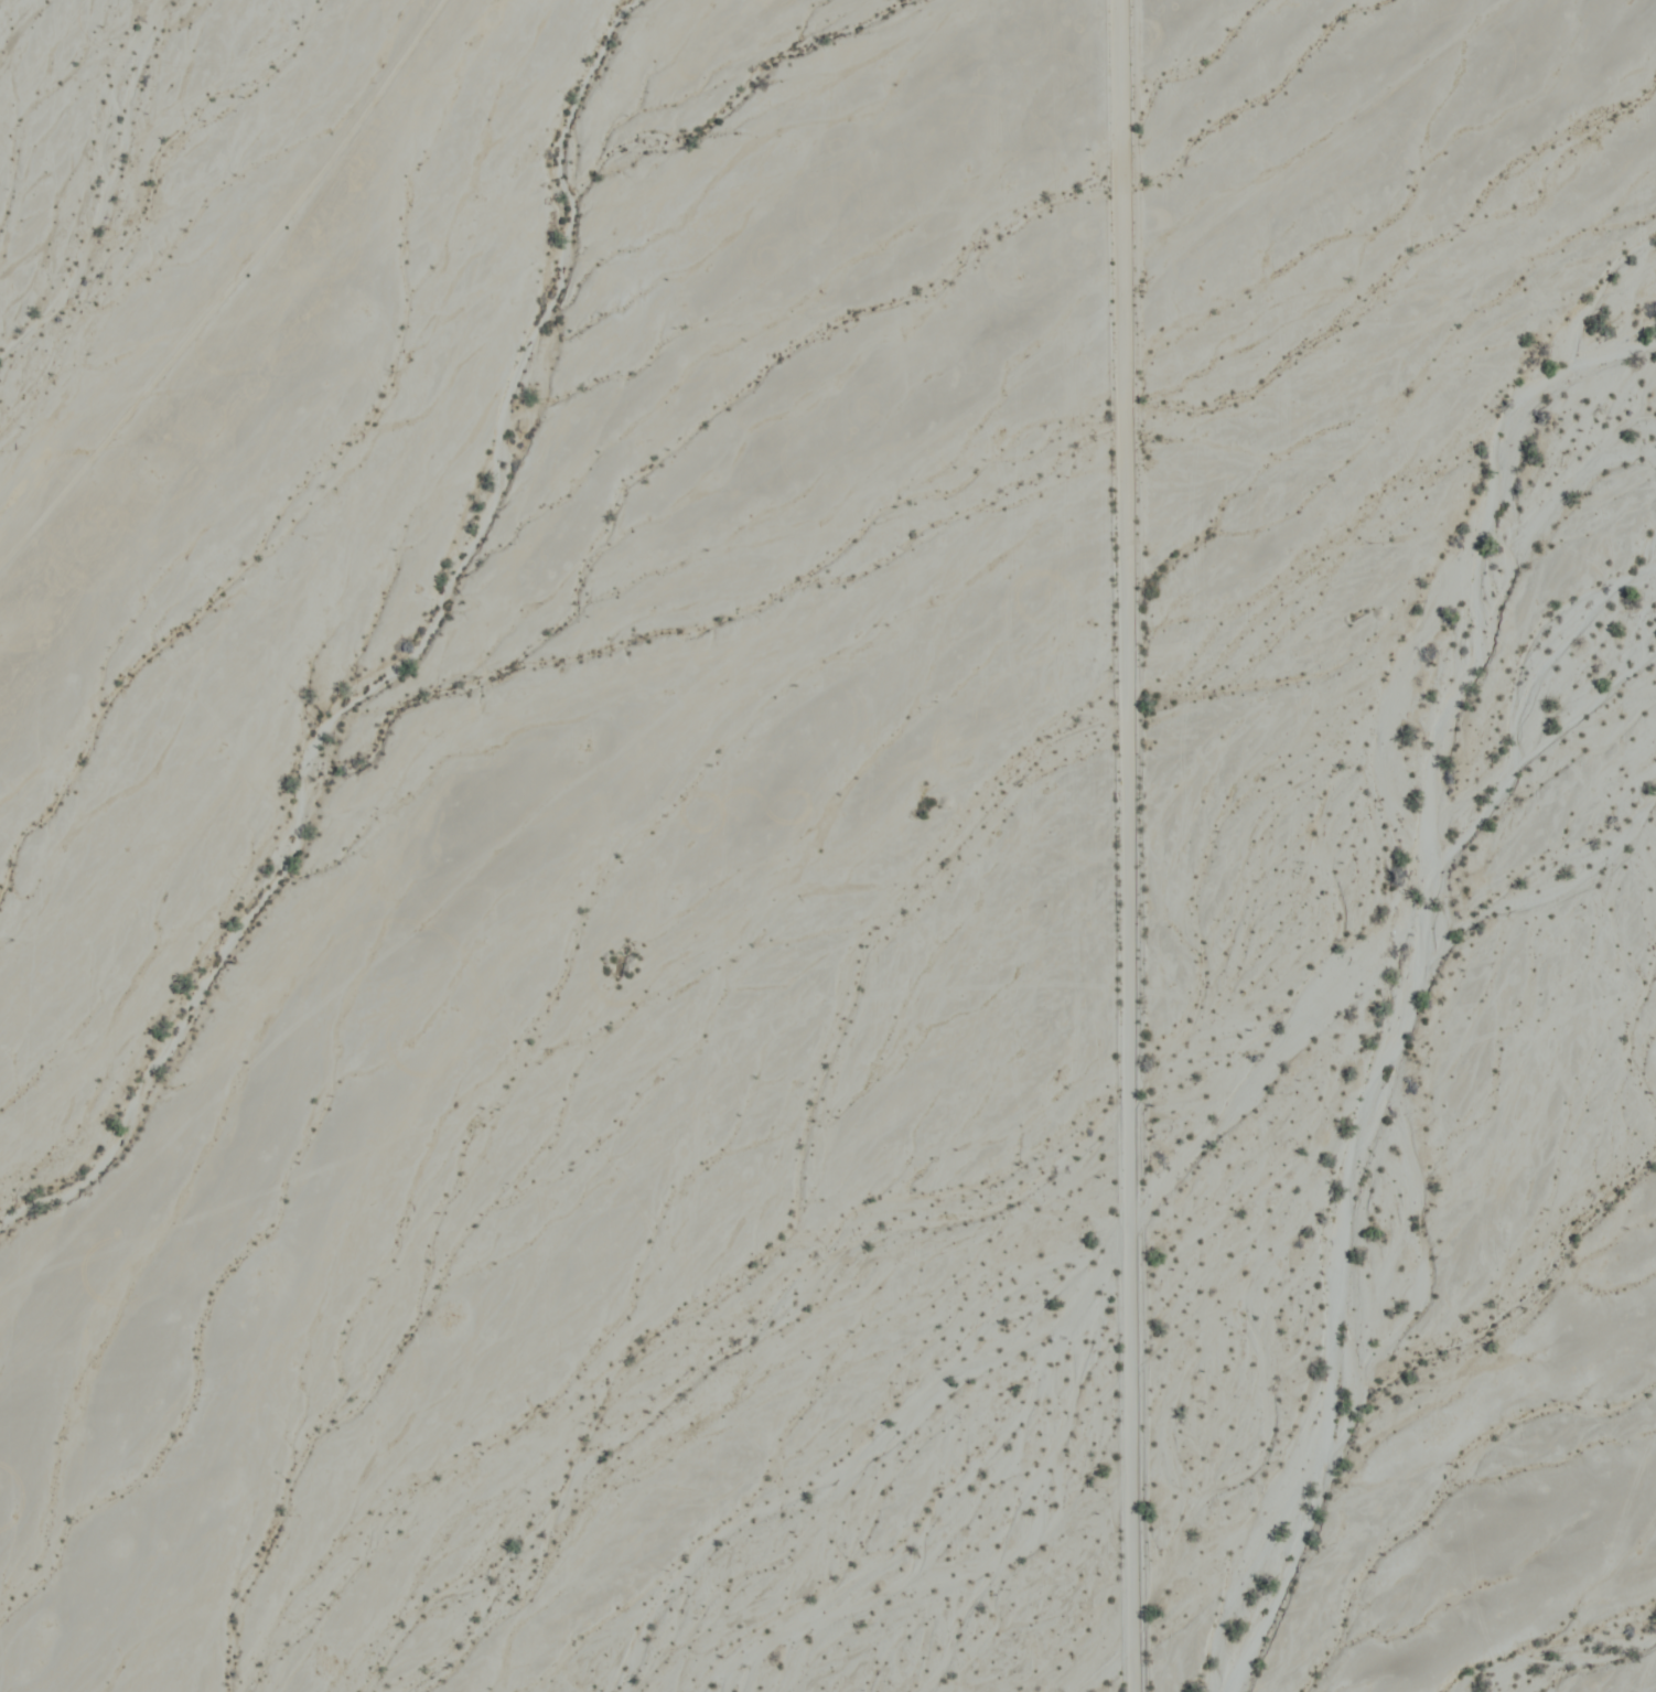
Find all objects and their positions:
road: (1153, 846)

